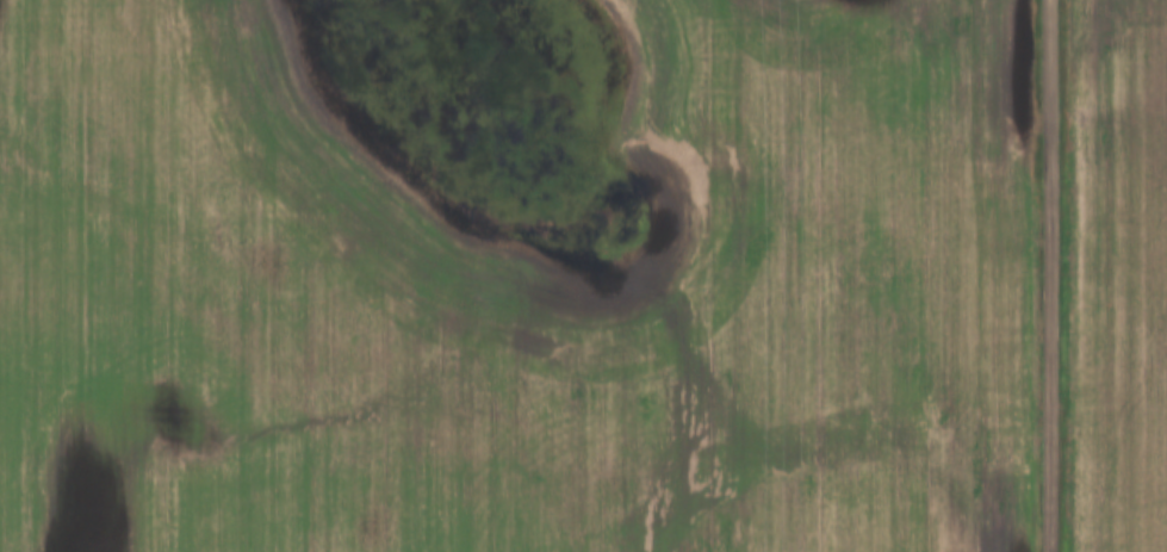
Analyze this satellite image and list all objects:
road: (1048, 275)

